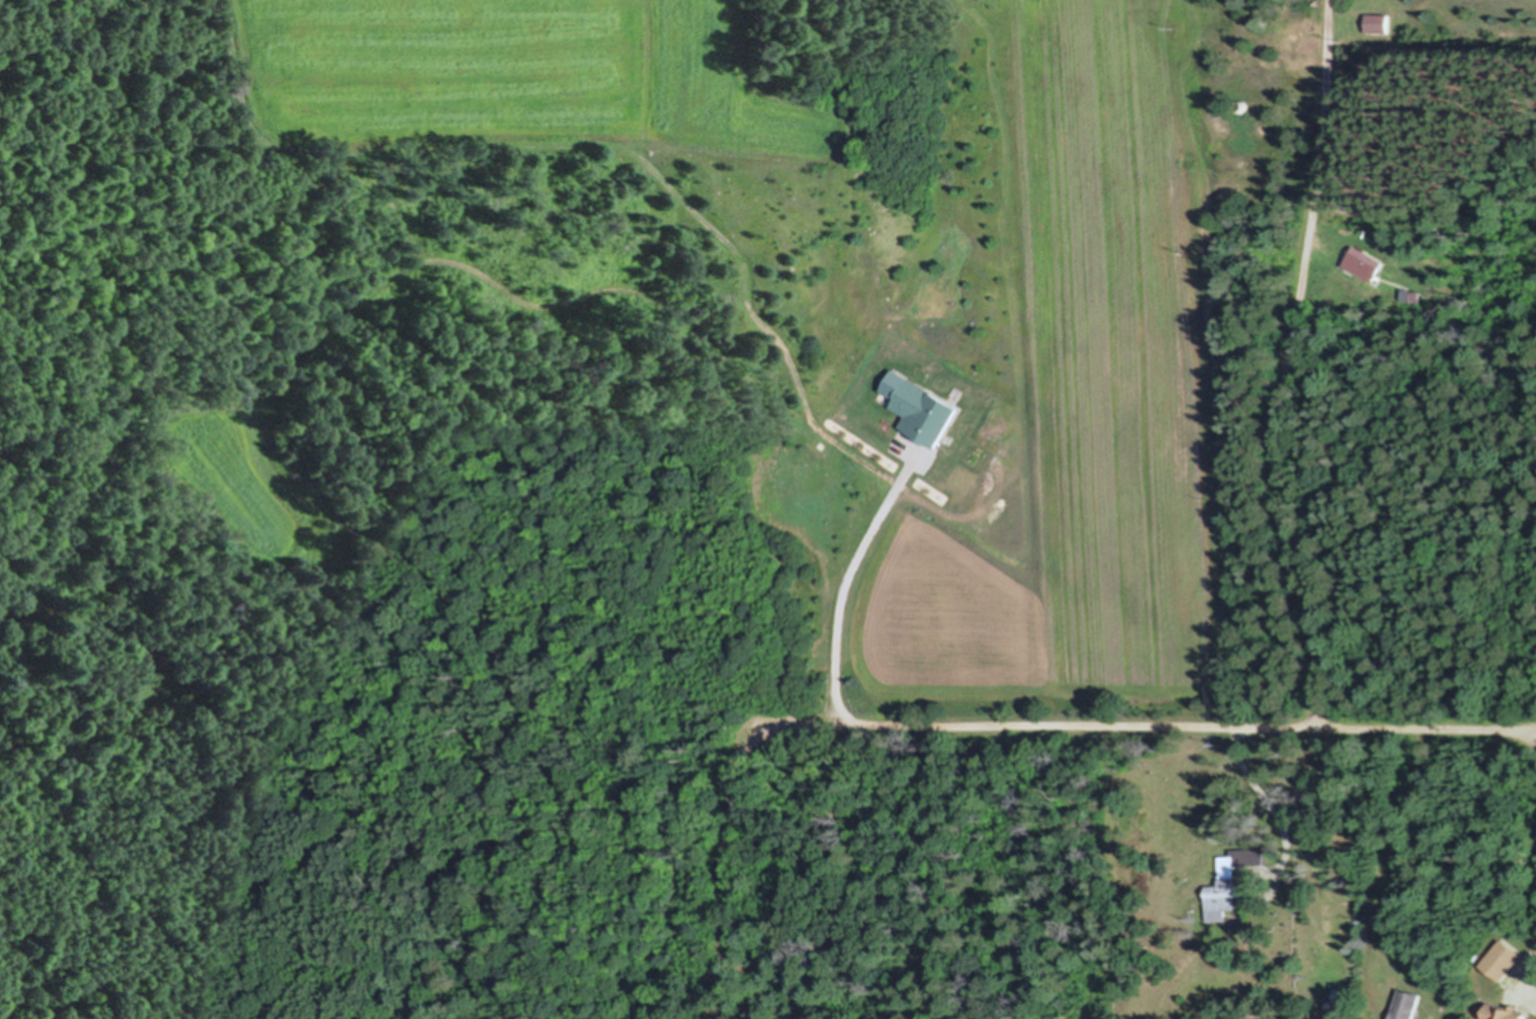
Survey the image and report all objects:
building: (1379, 24)
crop: (469, 69)
building: (1365, 264)
road: (1285, 365)
building: (923, 410)
road: (846, 584)
road: (1147, 726)
road: (1534, 736)
road: (1269, 798)
road: (722, 867)
building: (1238, 881)
building: (1414, 1004)
building: (1508, 1012)

